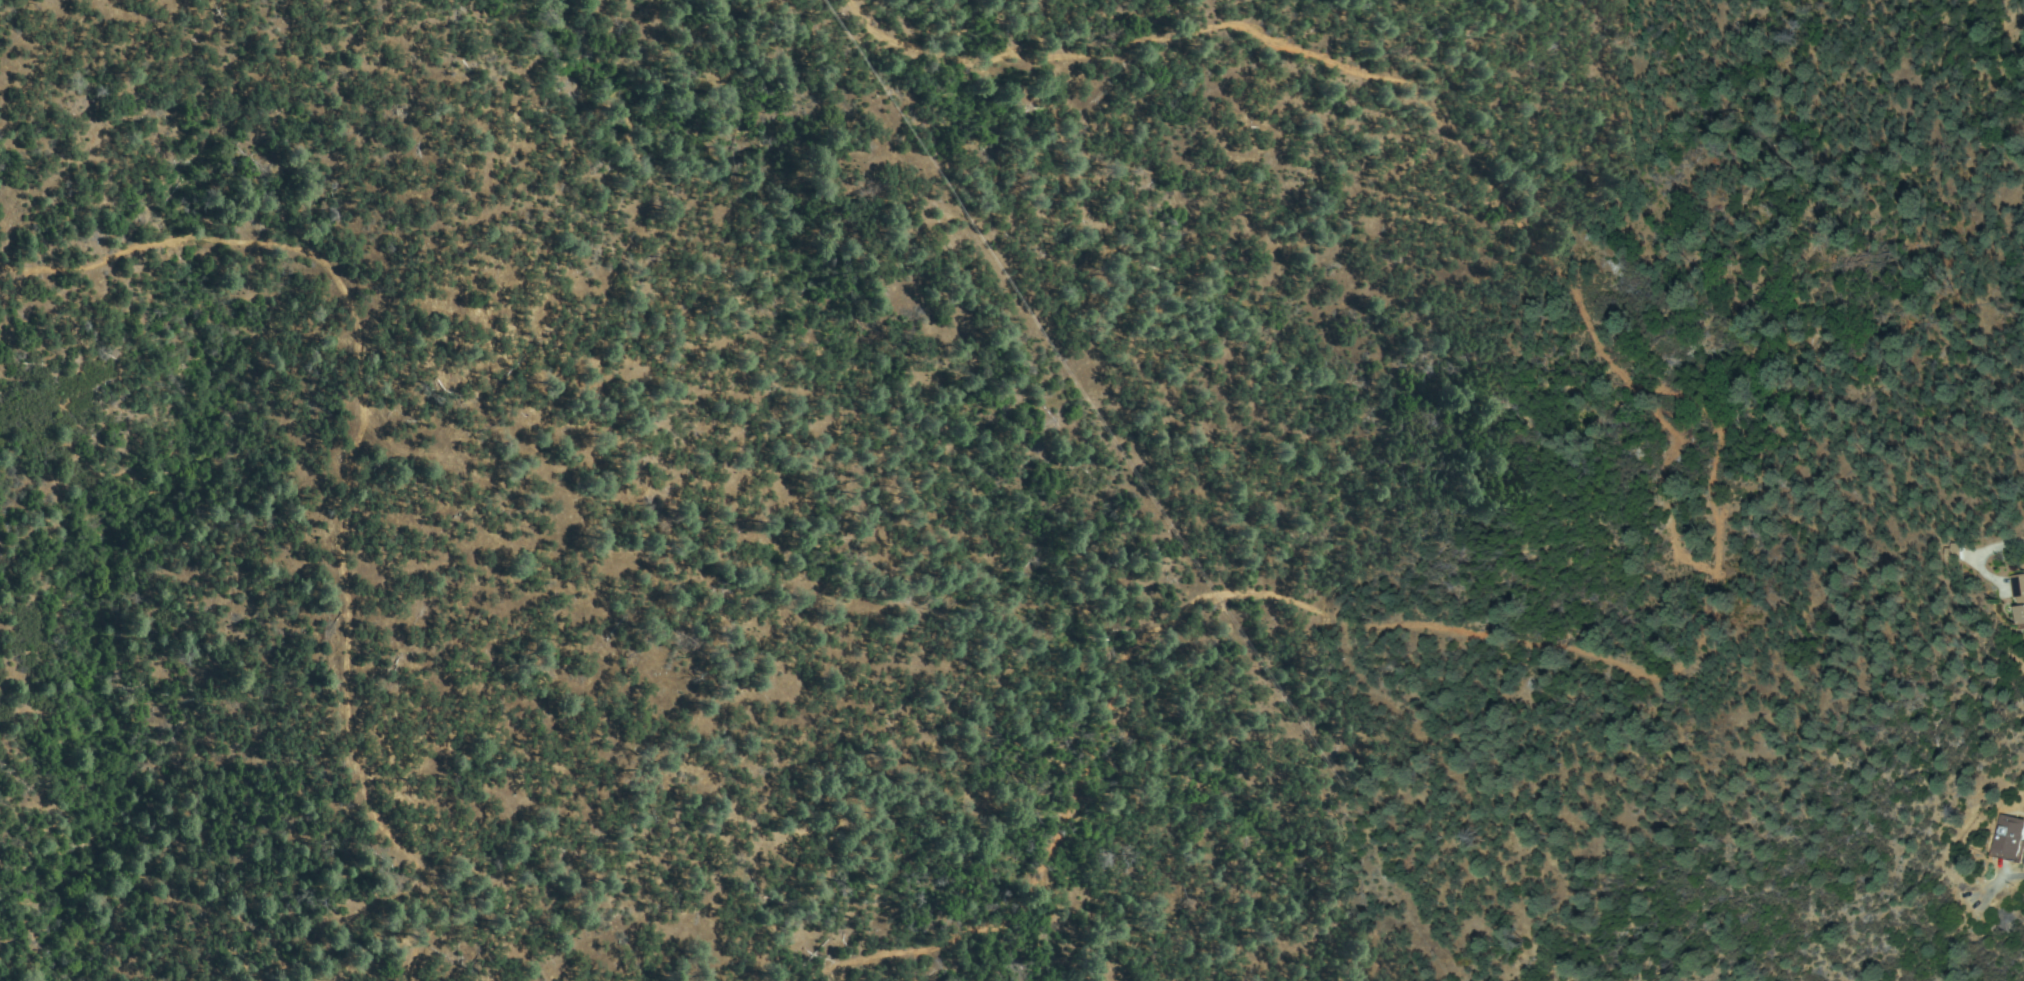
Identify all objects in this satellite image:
building: (2020, 595)
building: (2010, 838)

